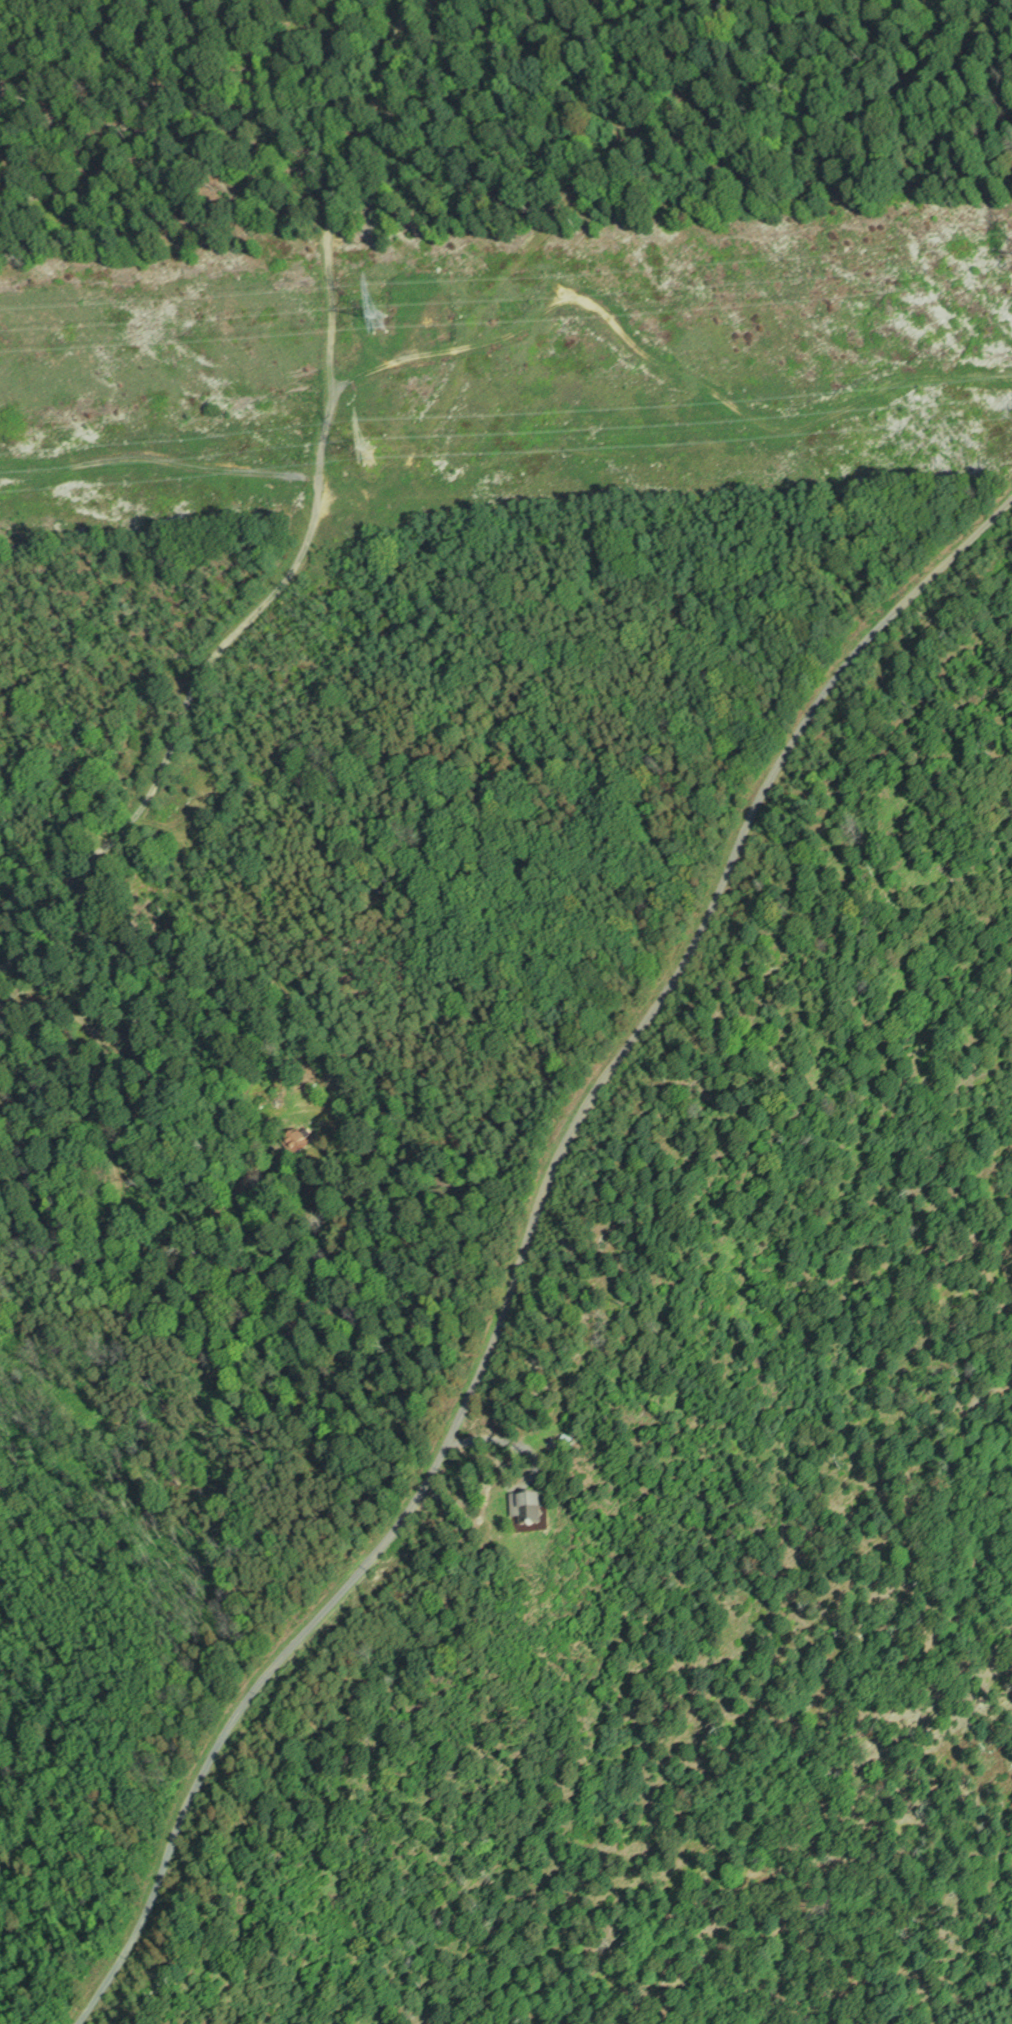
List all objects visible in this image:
power tower: (378, 323)
power tower: (369, 454)
road: (508, 1264)
building: (527, 1507)

